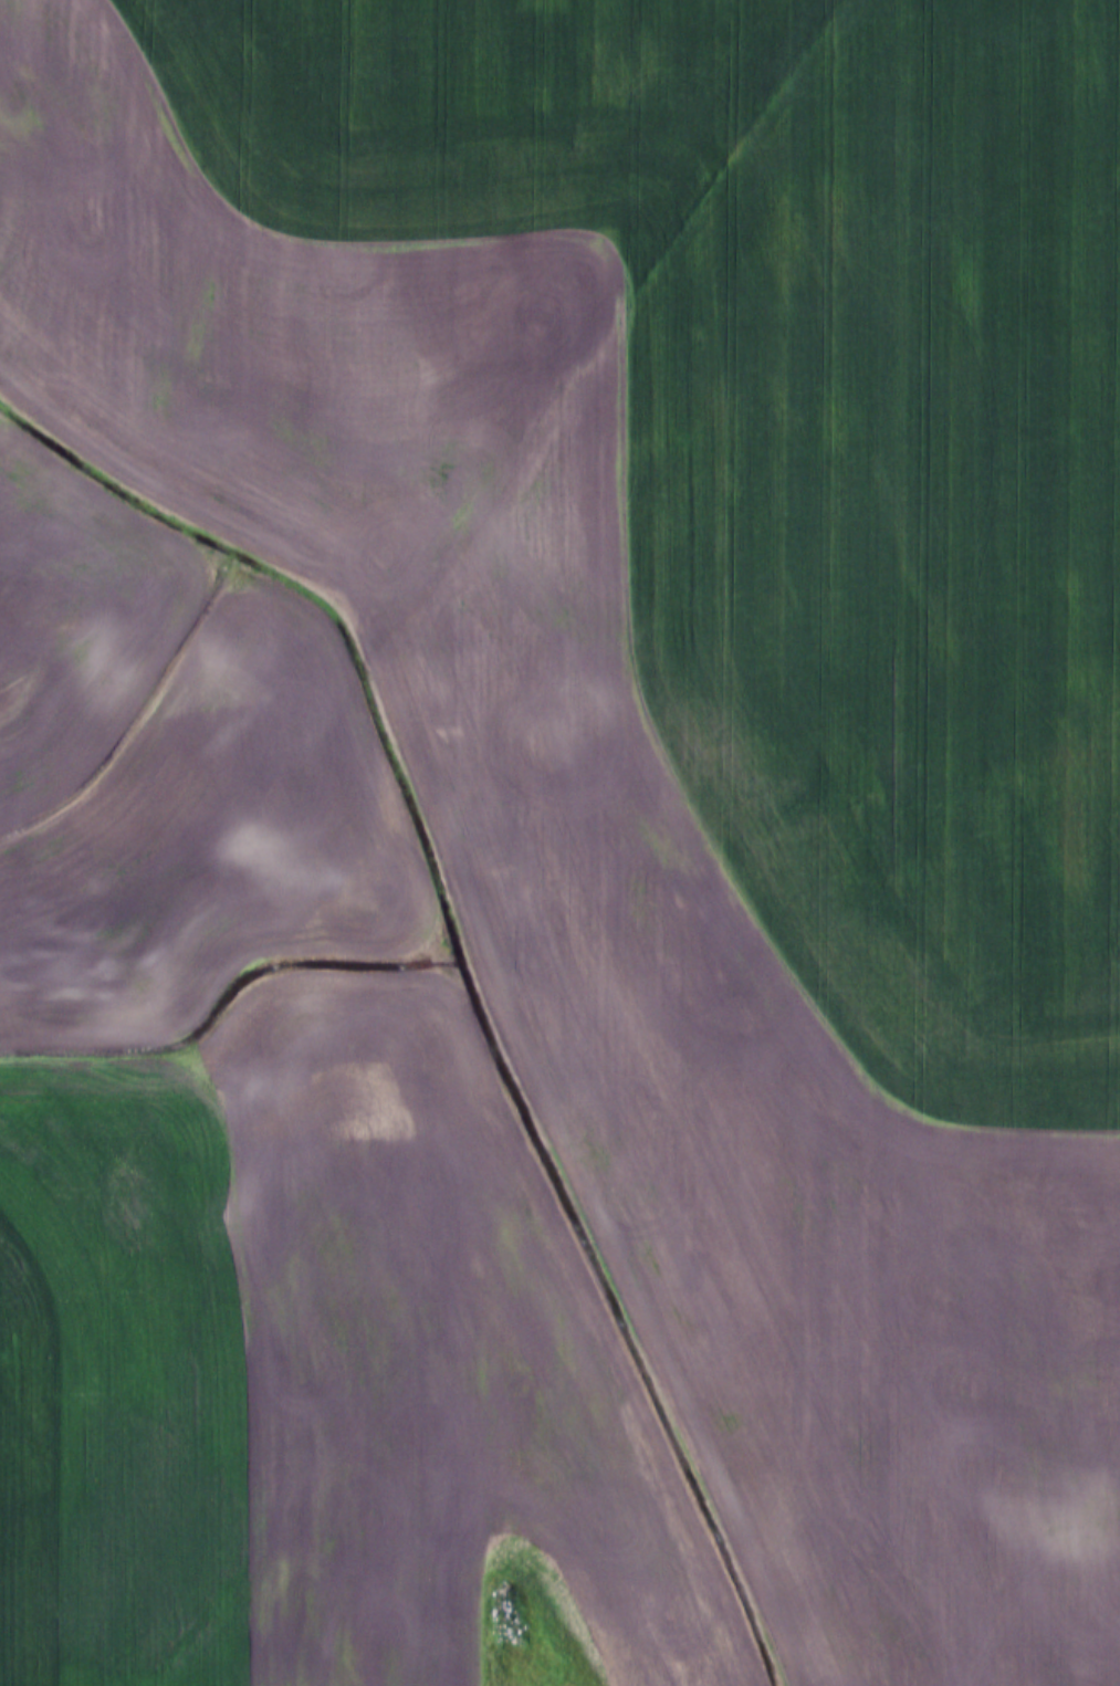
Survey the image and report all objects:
road: (475, 965)

